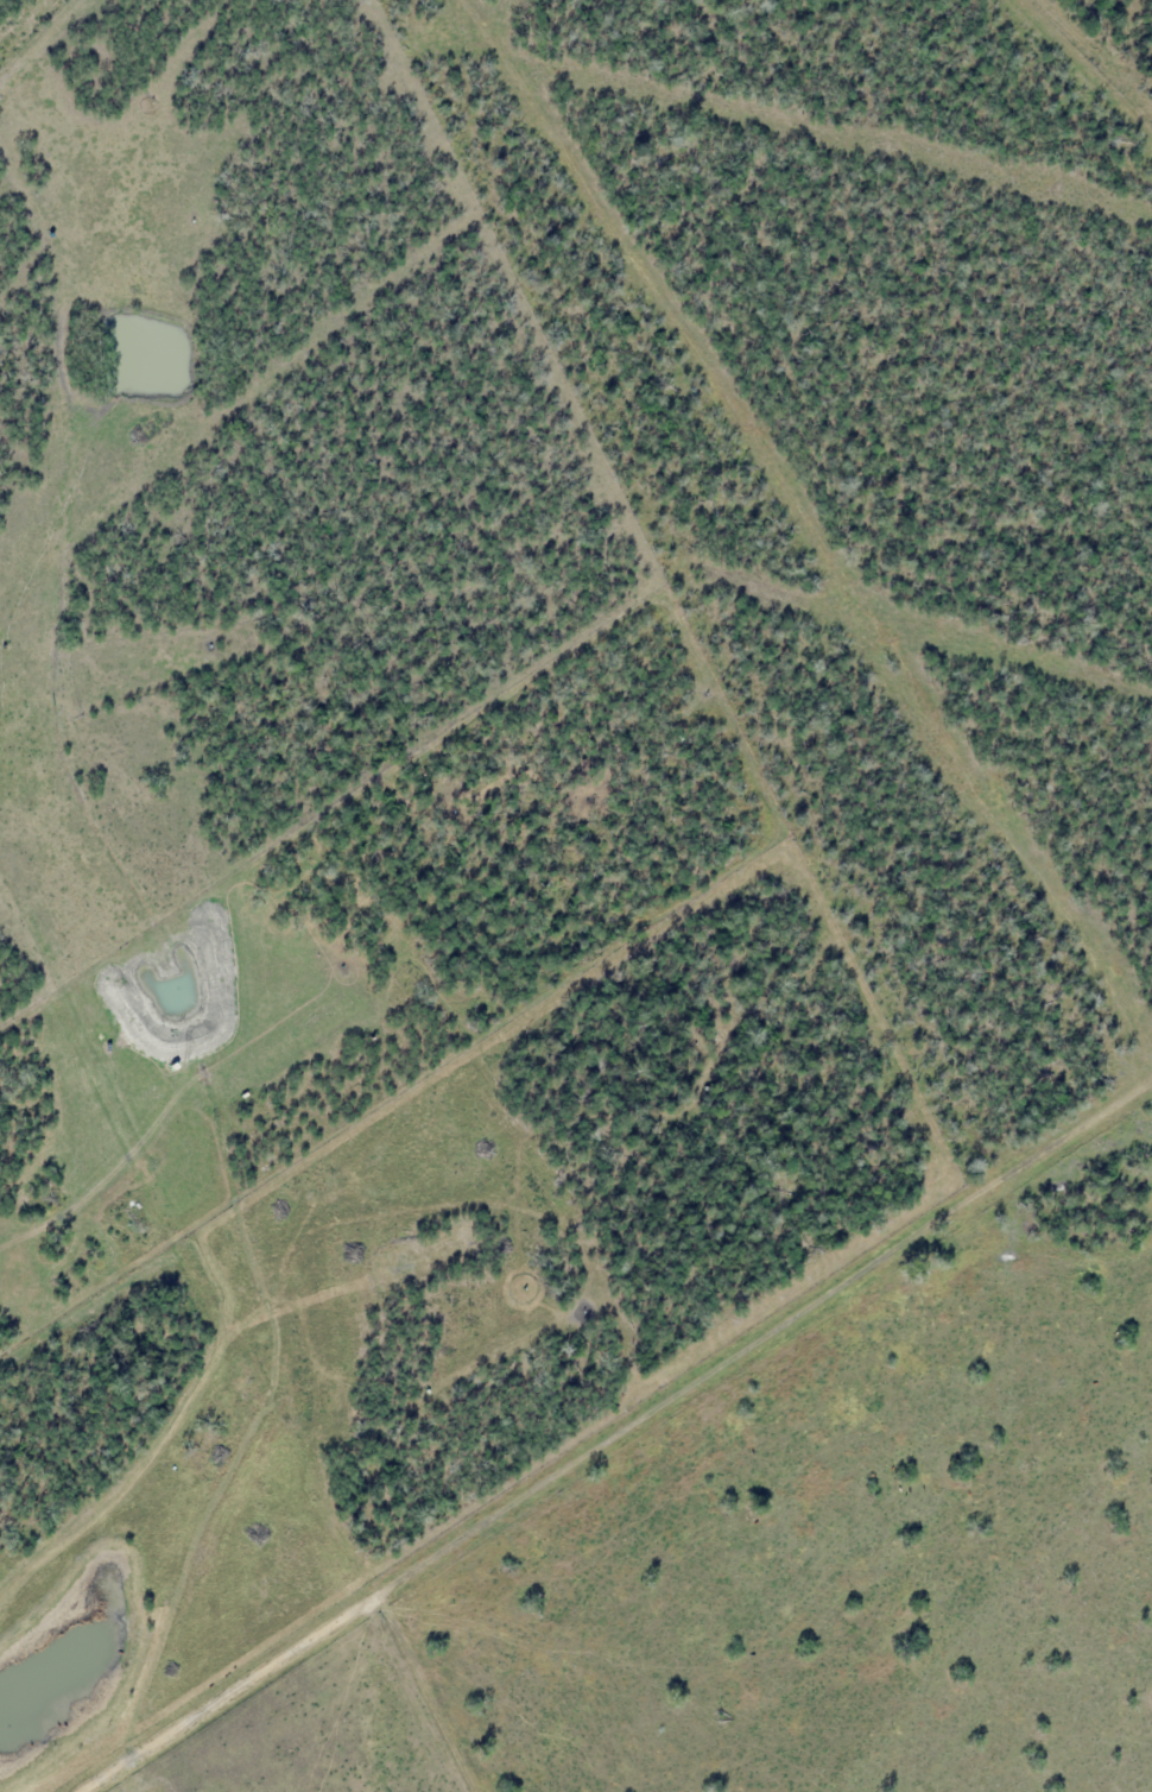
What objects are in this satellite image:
building: (38, 1670)

